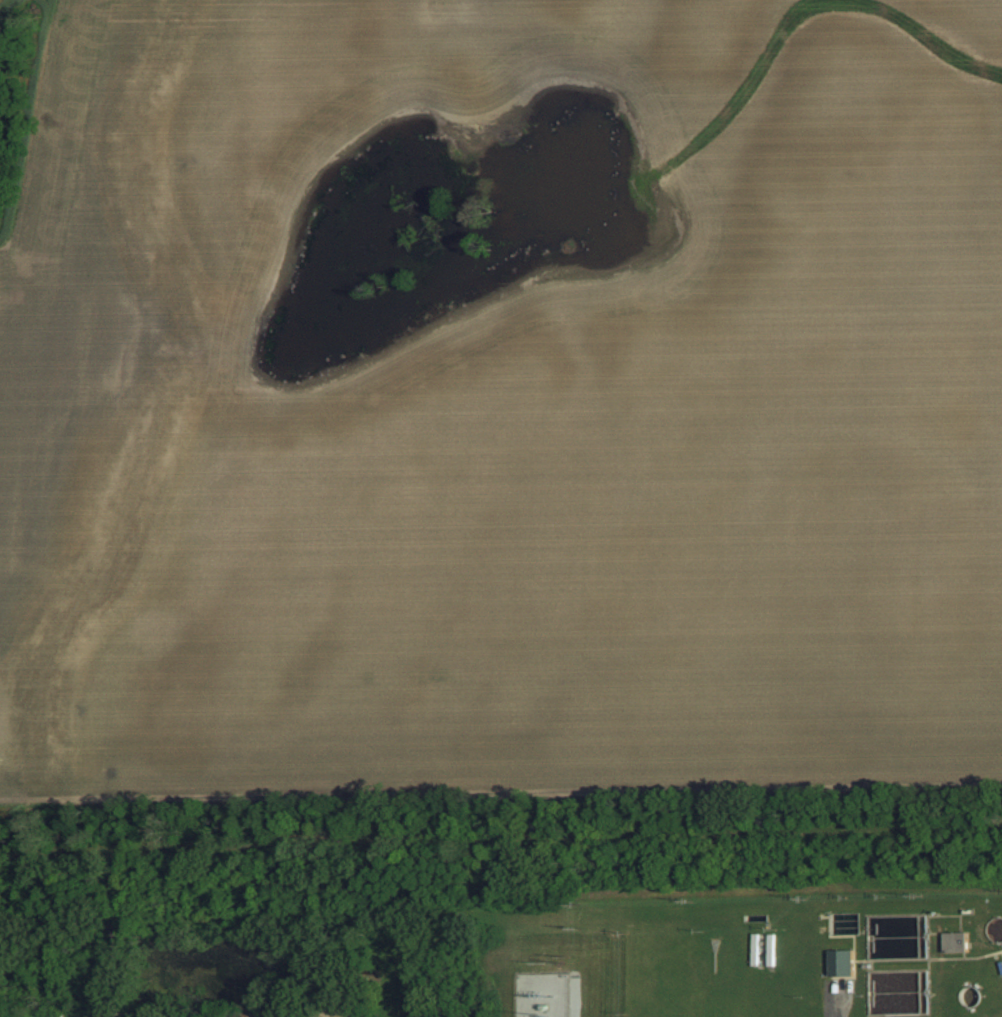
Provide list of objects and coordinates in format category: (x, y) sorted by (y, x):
building: (956, 942)
building: (842, 963)

